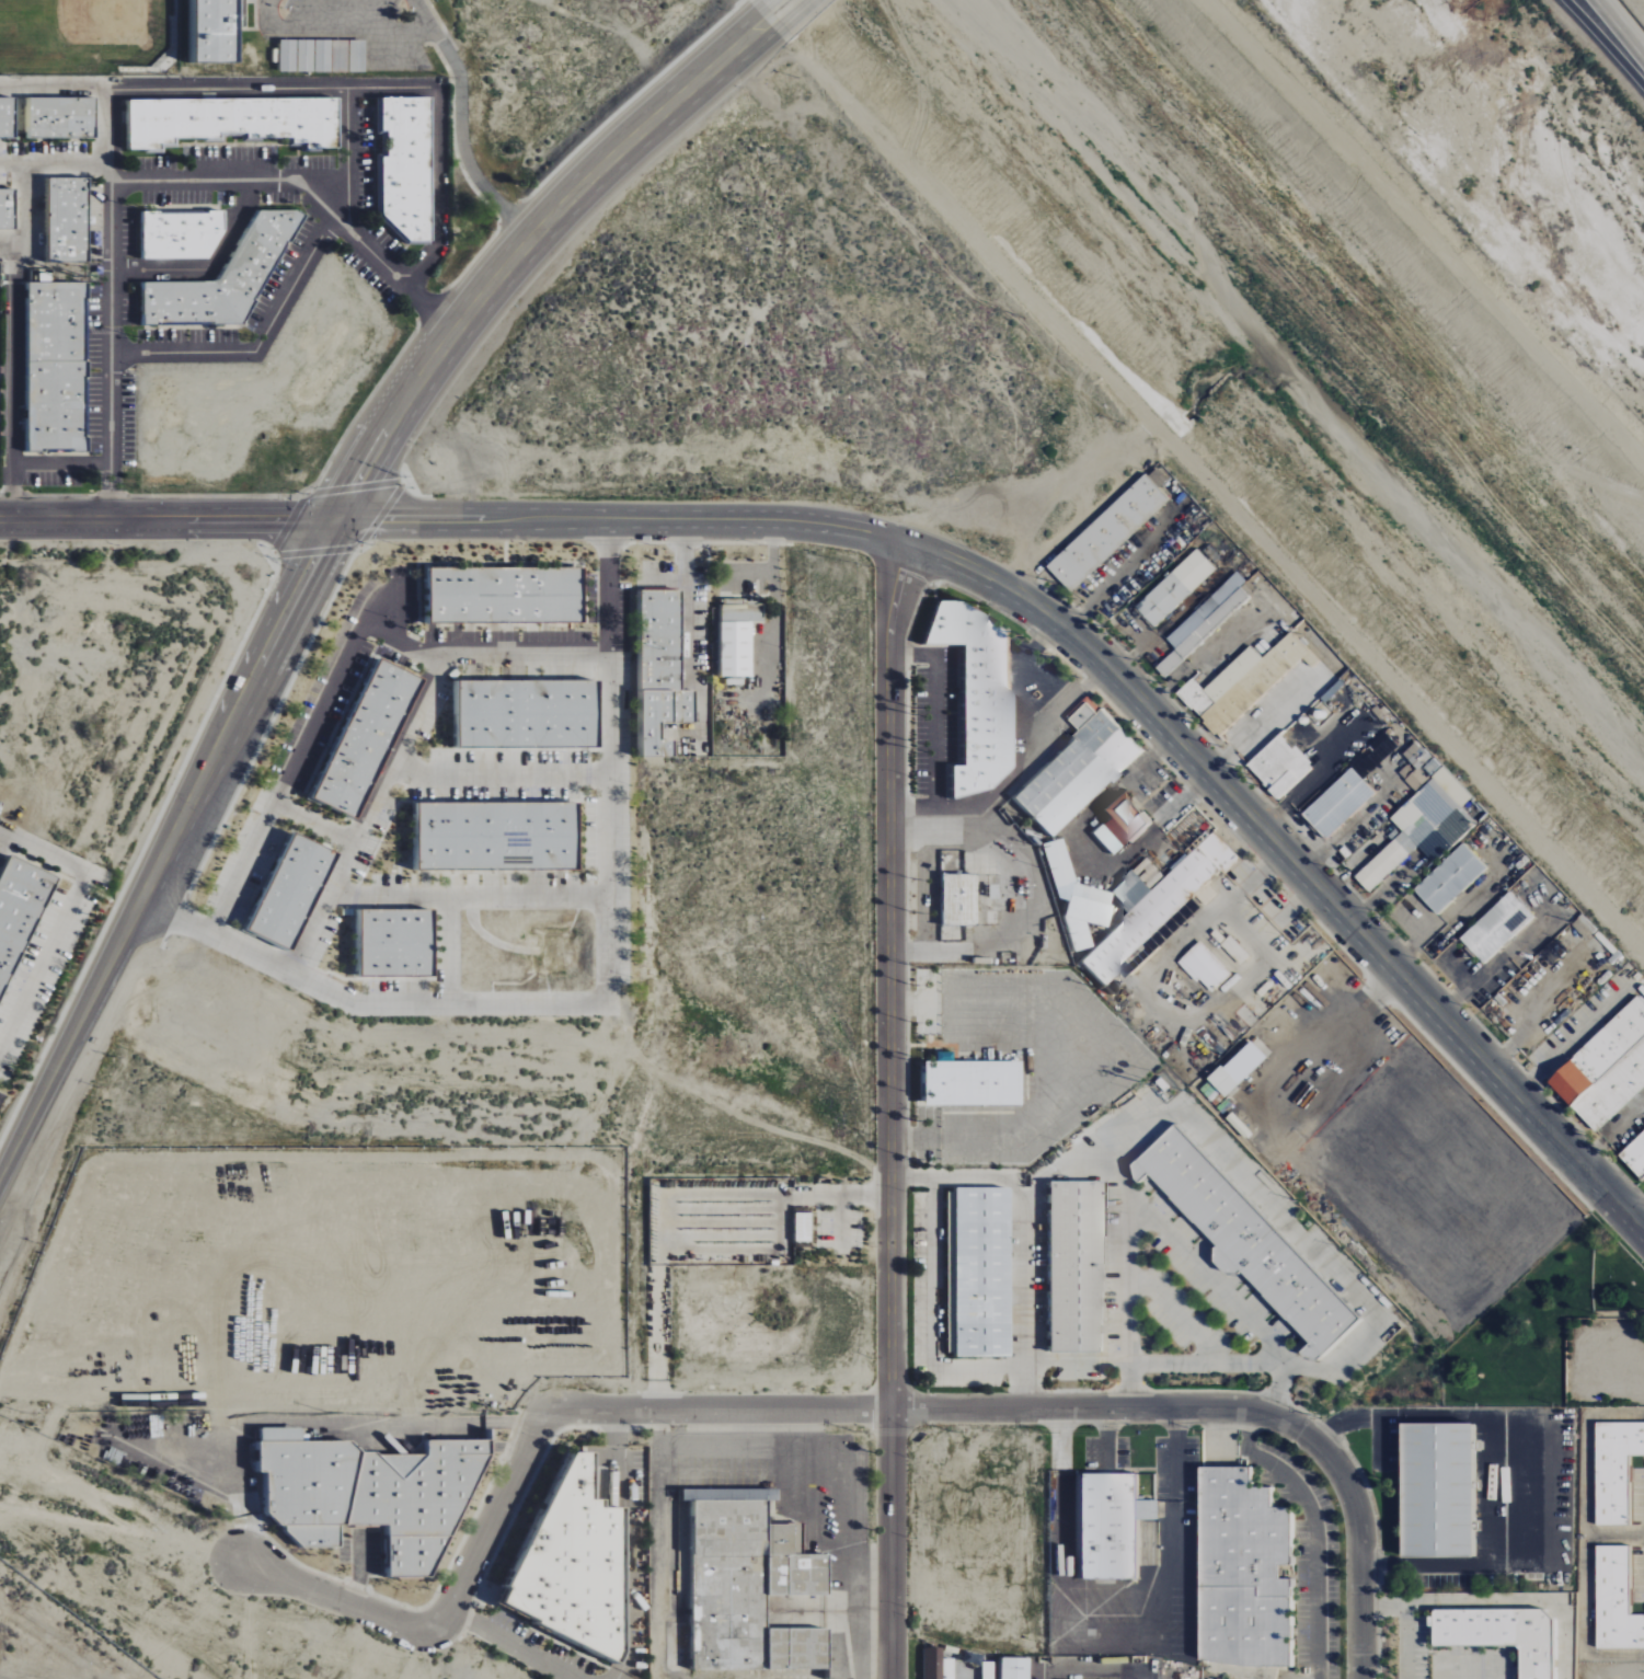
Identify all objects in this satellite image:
road: (767, 5)
road: (800, 18)
road: (1621, 26)
road: (355, 27)
building: (219, 30)
road: (740, 37)
road: (1605, 42)
road: (749, 48)
building: (323, 56)
road: (321, 87)
building: (7, 116)
building: (62, 117)
building: (235, 120)
road: (110, 124)
road: (460, 141)
road: (347, 157)
road: (65, 160)
building: (409, 166)
road: (143, 180)
road: (24, 207)
building: (8, 209)
building: (64, 220)
building: (183, 235)
road: (209, 268)
road: (505, 269)
building: (228, 278)
road: (257, 346)
building: (58, 367)
road: (7, 378)
road: (58, 464)
road: (1208, 481)
road: (171, 520)
building: (1106, 532)
building: (1174, 587)
building: (507, 595)
road: (688, 598)
building: (1197, 628)
building: (738, 637)
road: (1100, 655)
building: (663, 670)
building: (1240, 683)
building: (974, 692)
road: (934, 710)
building: (529, 714)
building: (368, 738)
road: (1018, 759)
building: (1278, 766)
building: (1074, 770)
road: (501, 774)
road: (287, 777)
road: (1320, 777)
building: (1337, 803)
building: (1423, 815)
building: (1117, 823)
building: (499, 837)
road: (164, 847)
road: (1092, 847)
building: (1449, 878)
building: (292, 893)
road: (469, 896)
building: (1073, 897)
building: (954, 899)
building: (1153, 905)
building: (19, 912)
road: (62, 915)
road: (173, 916)
building: (1496, 927)
building: (399, 943)
road: (450, 950)
building: (1234, 950)
building: (1204, 967)
road: (301, 978)
road: (1573, 1040)
building: (1605, 1068)
building: (1221, 1081)
building: (965, 1082)
road: (1, 1104)
road: (890, 1107)
road: (16, 1111)
road: (1196, 1129)
road: (1611, 1131)
building: (1634, 1155)
road: (912, 1181)
road: (1639, 1212)
building: (798, 1227)
building: (1243, 1241)
building: (1070, 1266)
building: (974, 1272)
road: (1126, 1280)
road: (965, 1367)
road: (830, 1405)
building: (1613, 1469)
building: (1434, 1491)
building: (373, 1492)
building: (1105, 1526)
road: (1314, 1526)
road: (1614, 1534)
road: (1584, 1536)
building: (577, 1563)
building: (1240, 1572)
building: (755, 1585)
building: (1614, 1601)
road: (1496, 1602)
building: (1499, 1635)
road: (1409, 1642)
road: (516, 1644)
road: (1469, 1663)
building: (934, 1665)
building: (1002, 1669)

